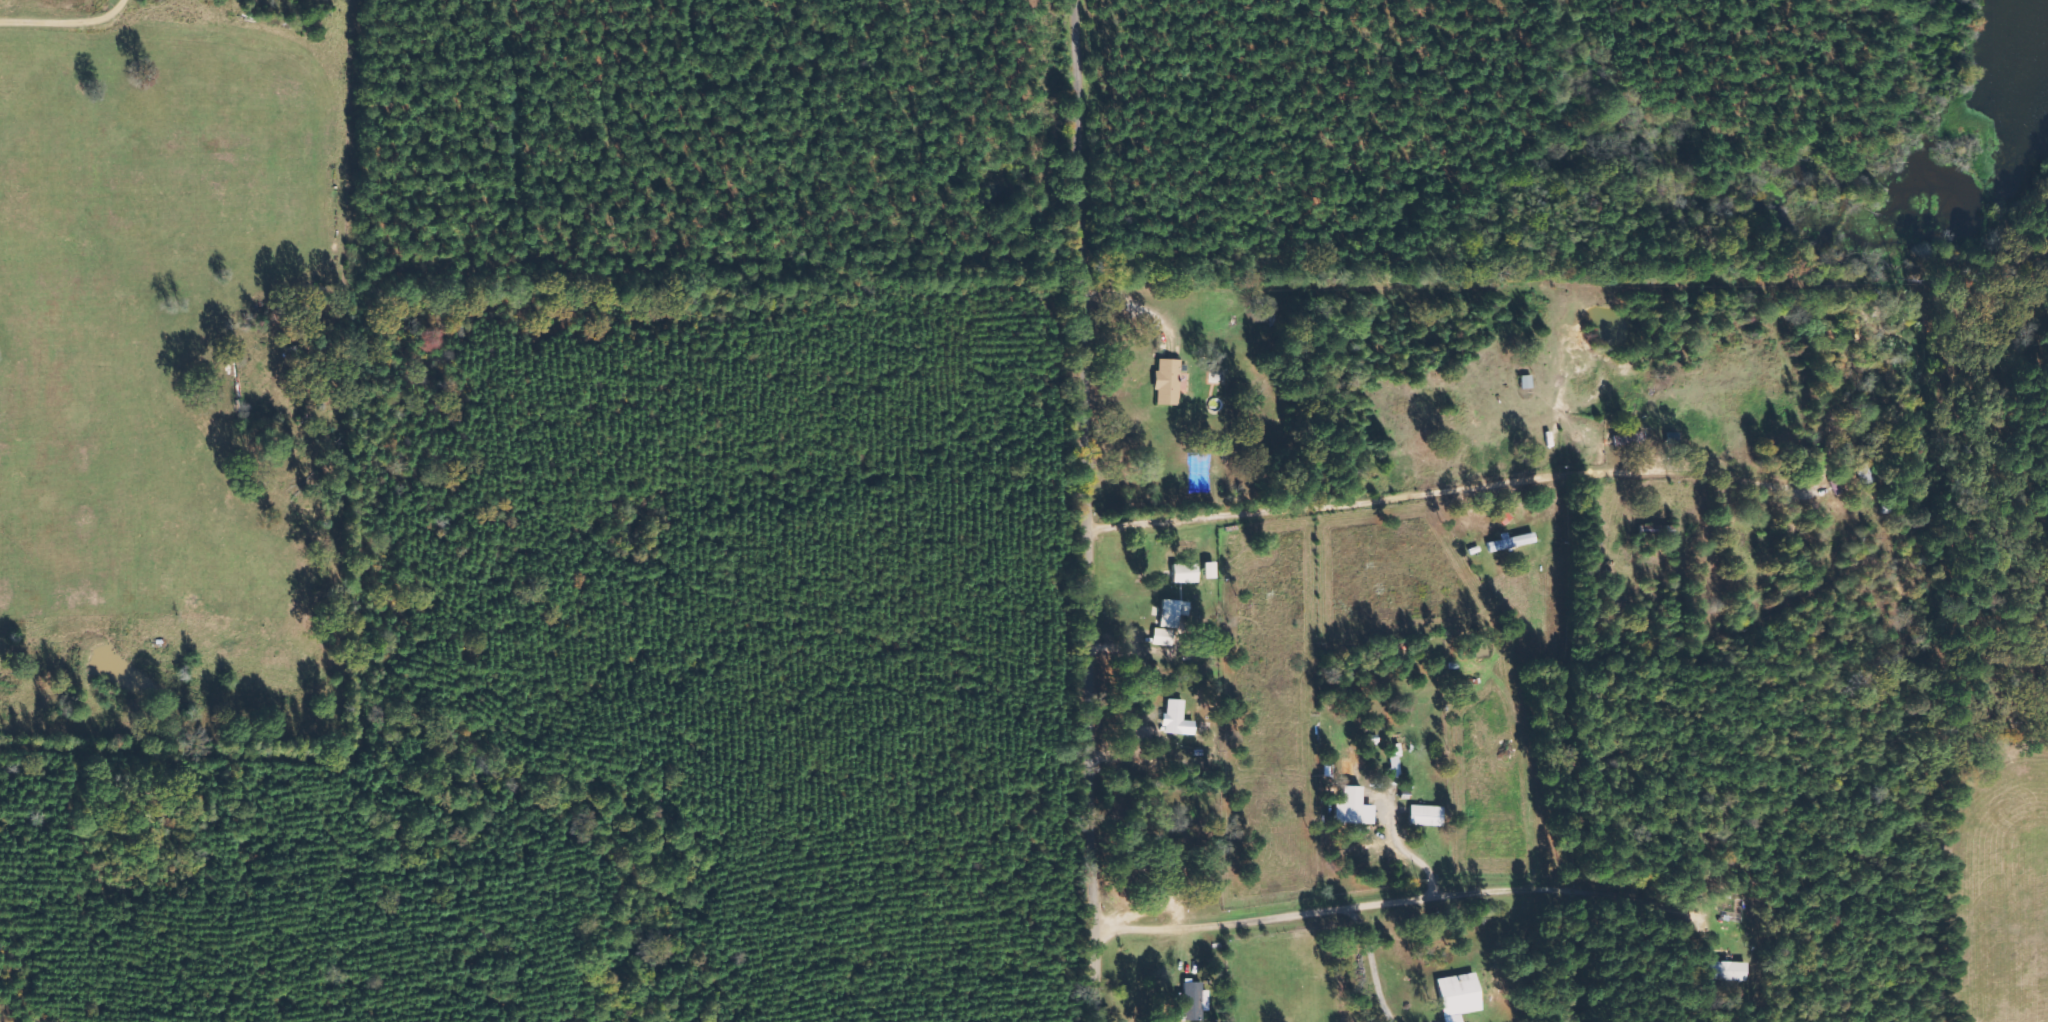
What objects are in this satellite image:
building: (1165, 380)
road: (1099, 510)
building: (1508, 540)
building: (1206, 569)
building: (1181, 572)
building: (1164, 623)
building: (1174, 718)
road: (1575, 742)
building: (1347, 792)
building: (1423, 815)
building: (1729, 970)
building: (1454, 996)
building: (1189, 1000)

